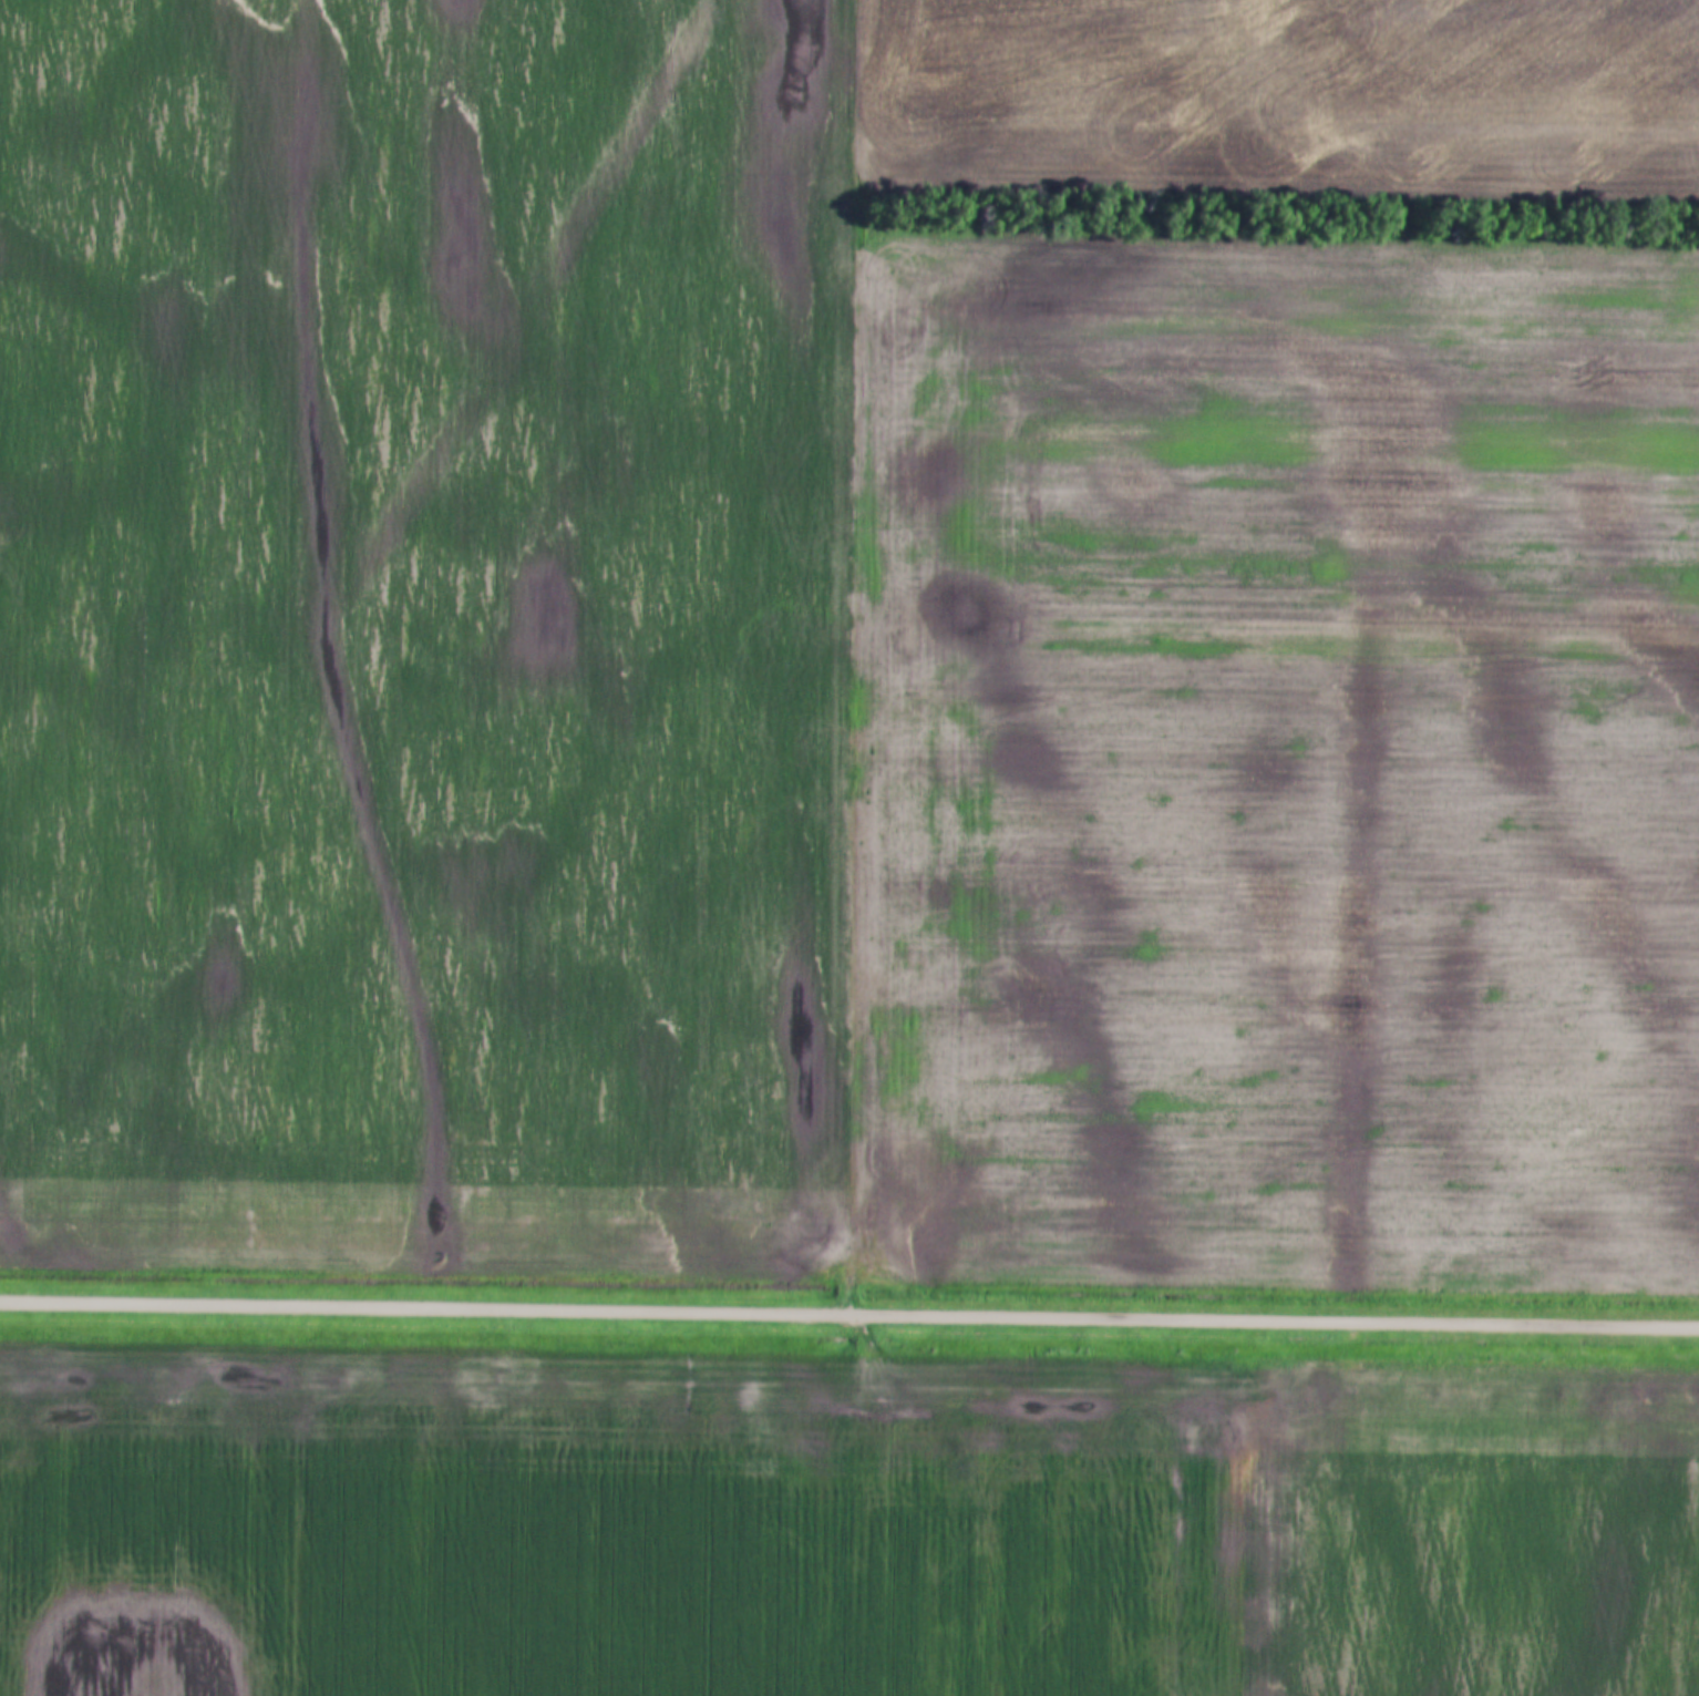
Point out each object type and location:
road: (849, 1317)

